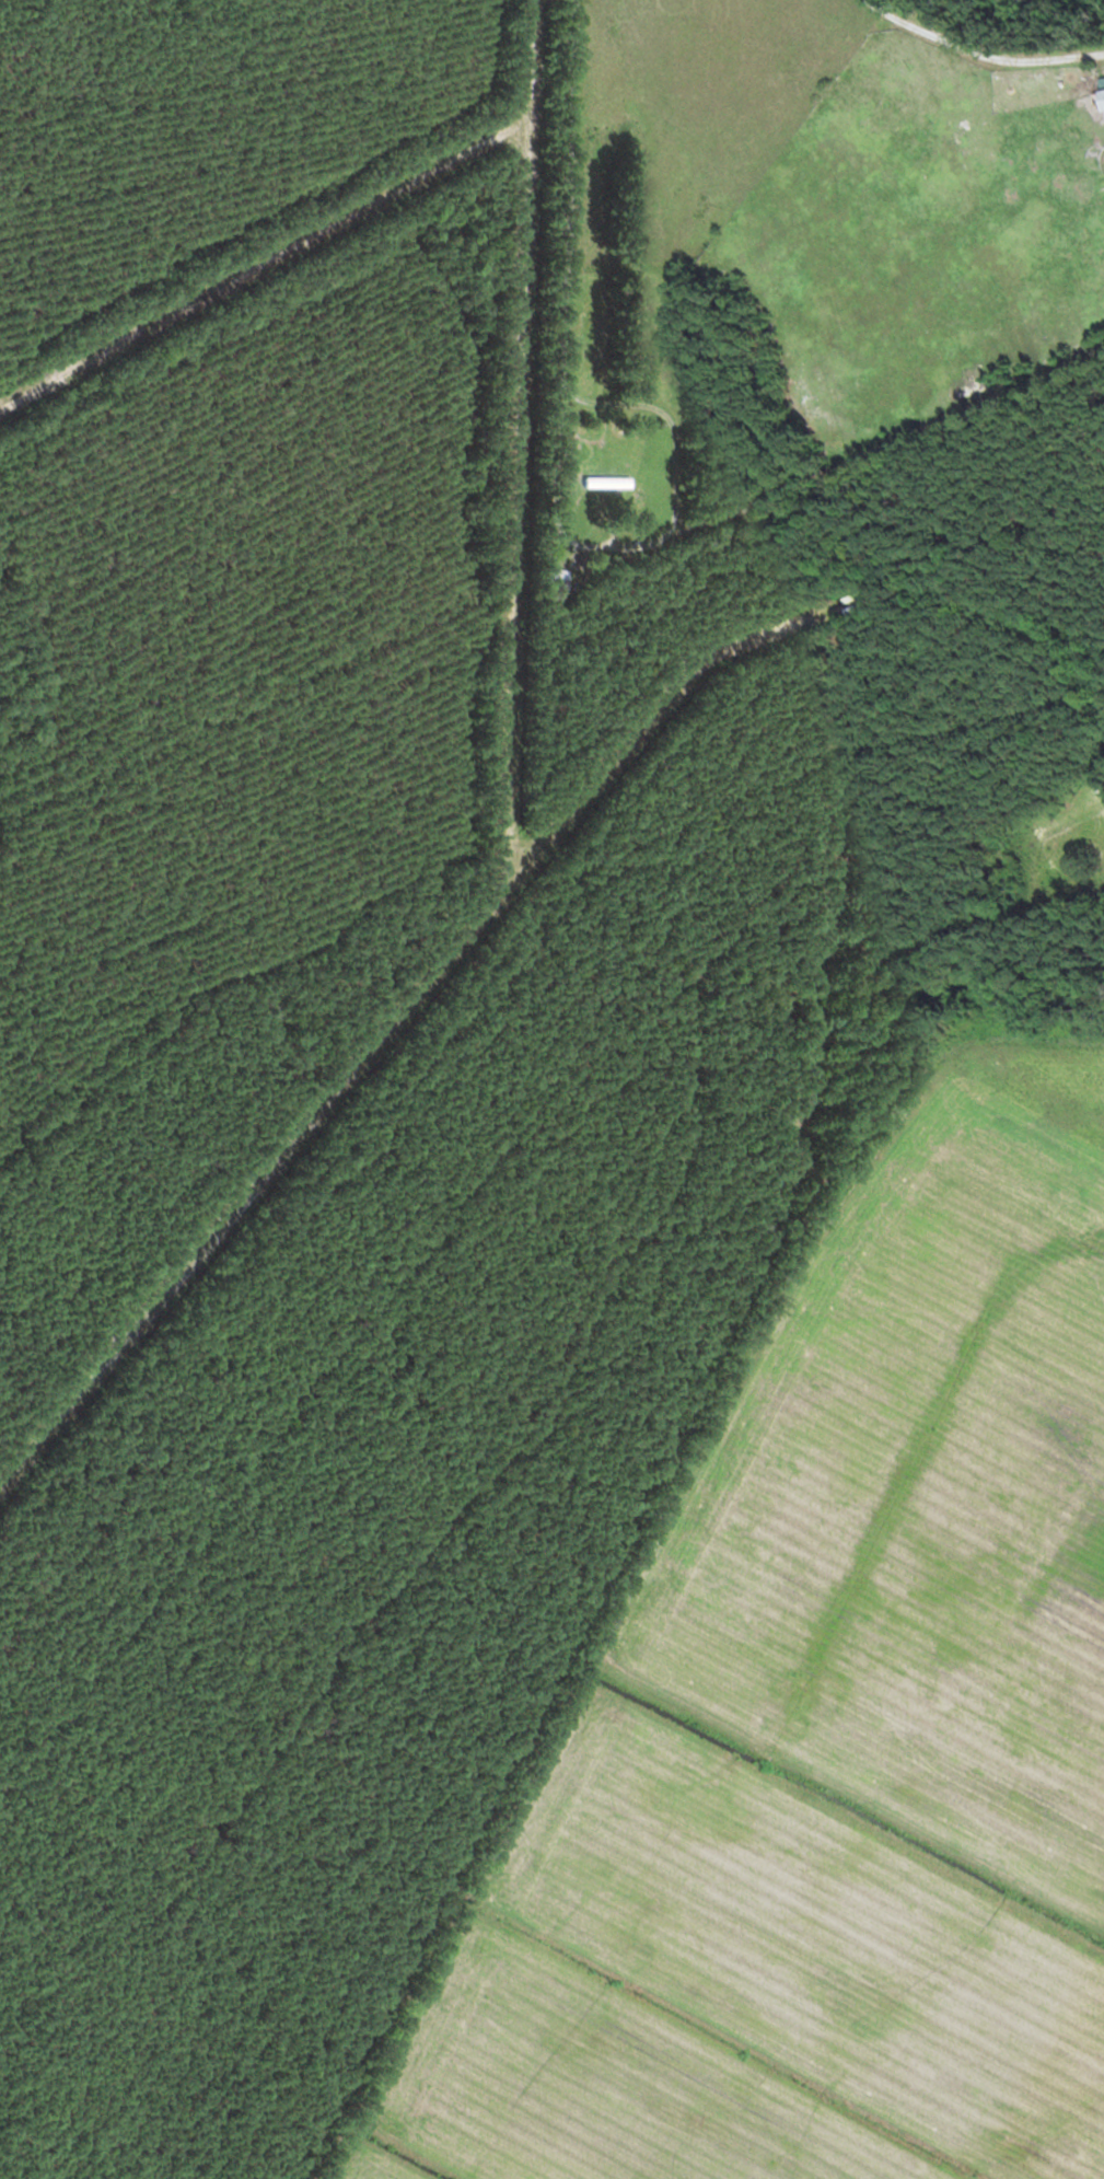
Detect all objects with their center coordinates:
road: (987, 148)
building: (606, 482)
building: (555, 581)

